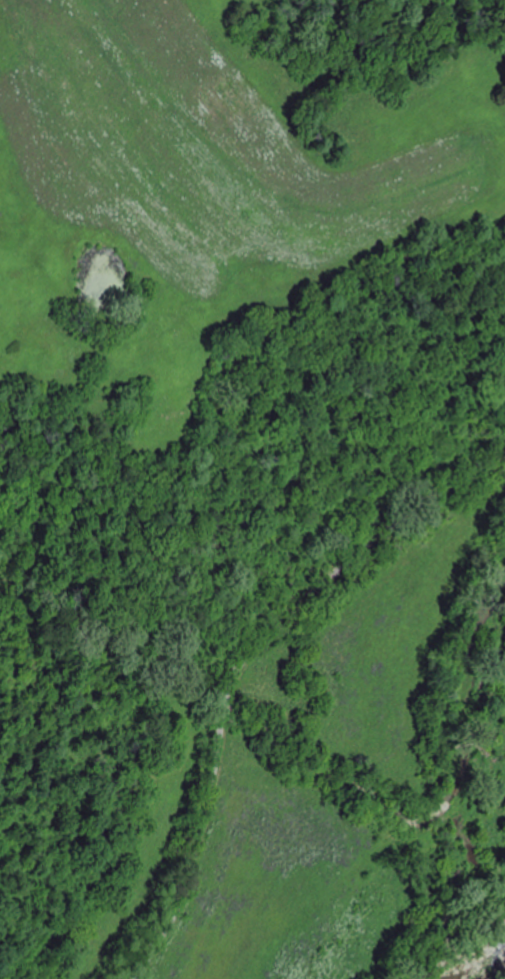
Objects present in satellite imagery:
road: (174, 511)
road: (503, 542)
road: (243, 665)
park: (301, 675)

